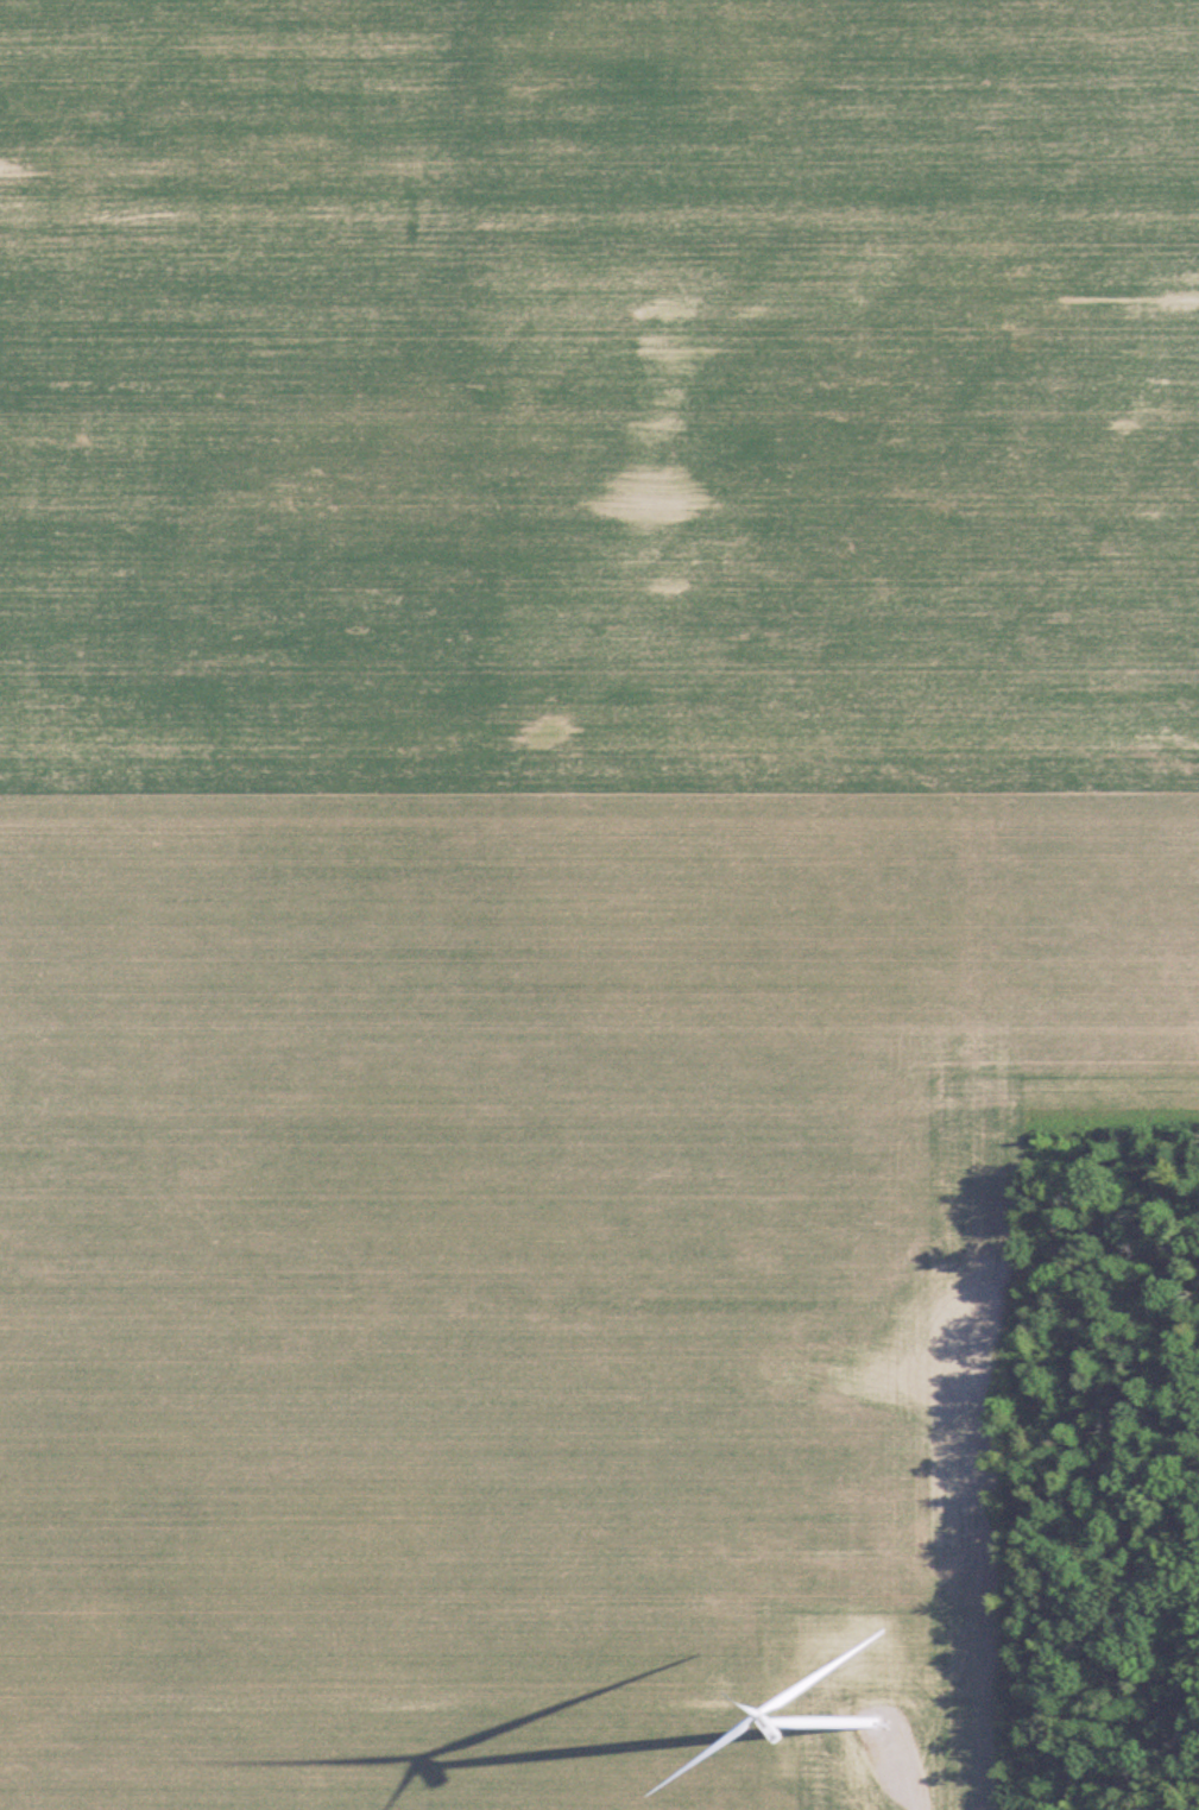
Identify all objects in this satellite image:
wind turbine: (892, 1739)

